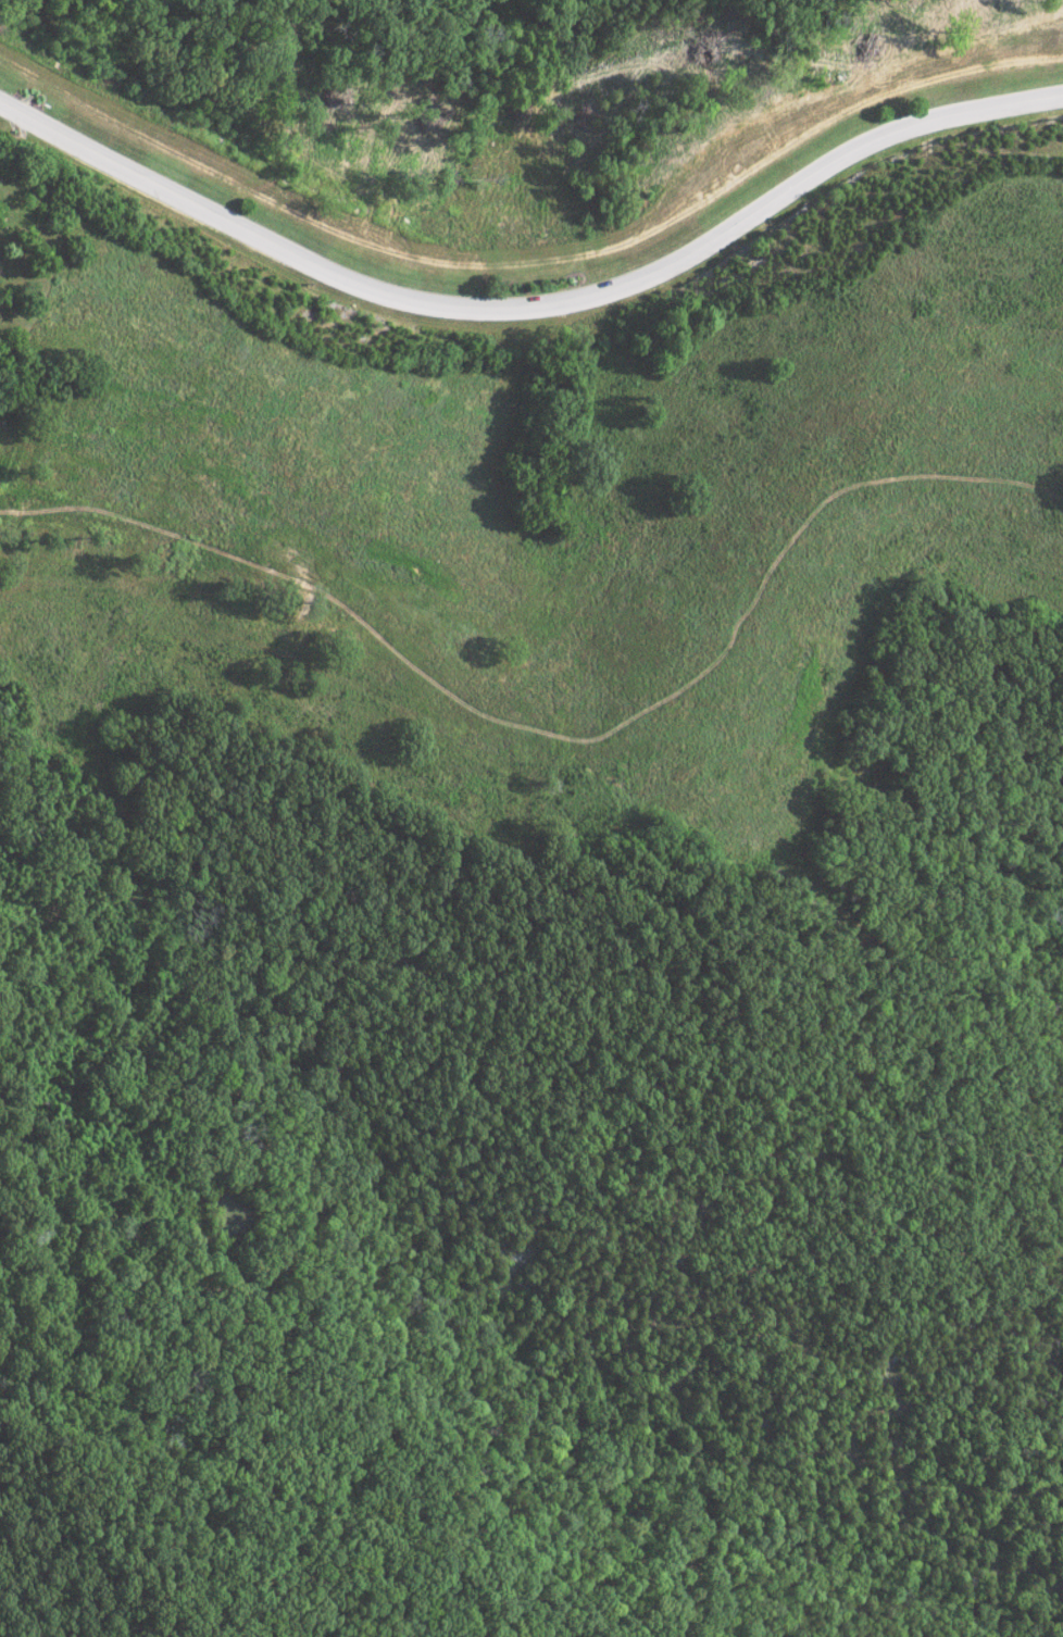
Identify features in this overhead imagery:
road: (531, 301)

